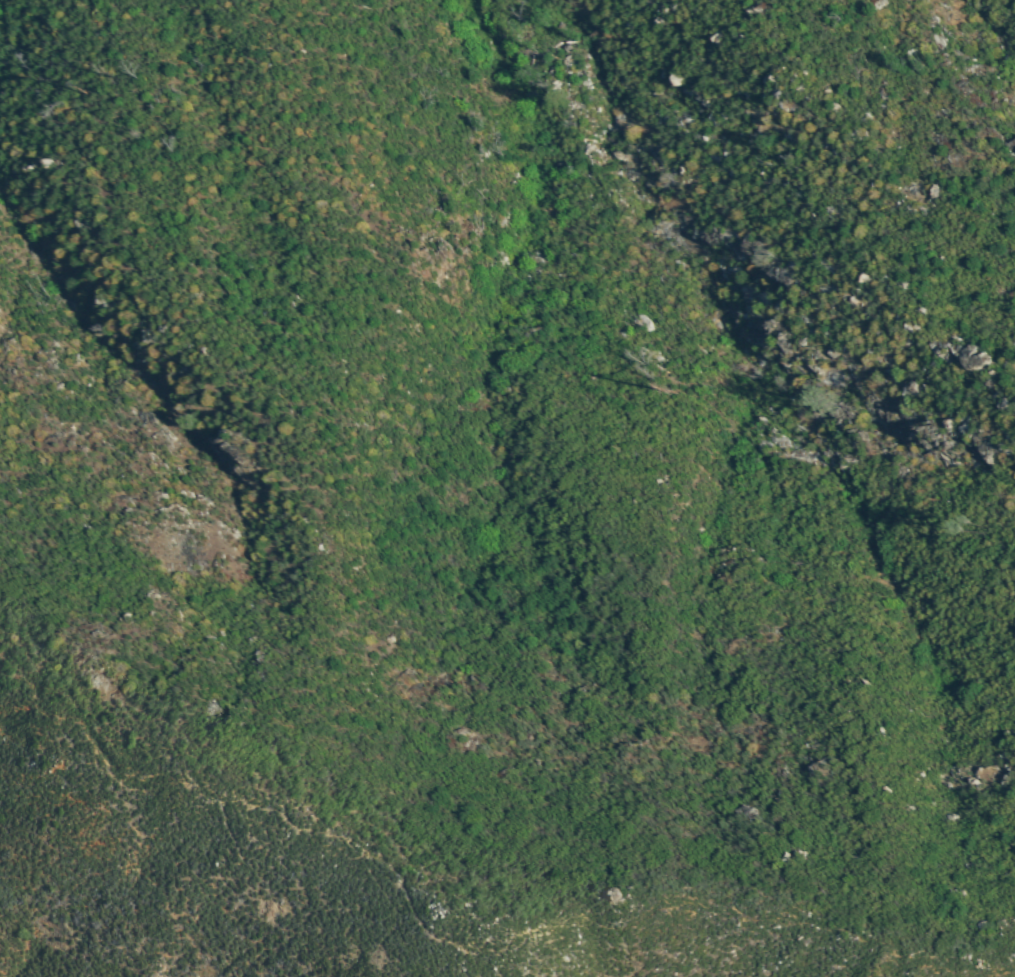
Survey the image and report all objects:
road: (16, 34)
road: (358, 862)

